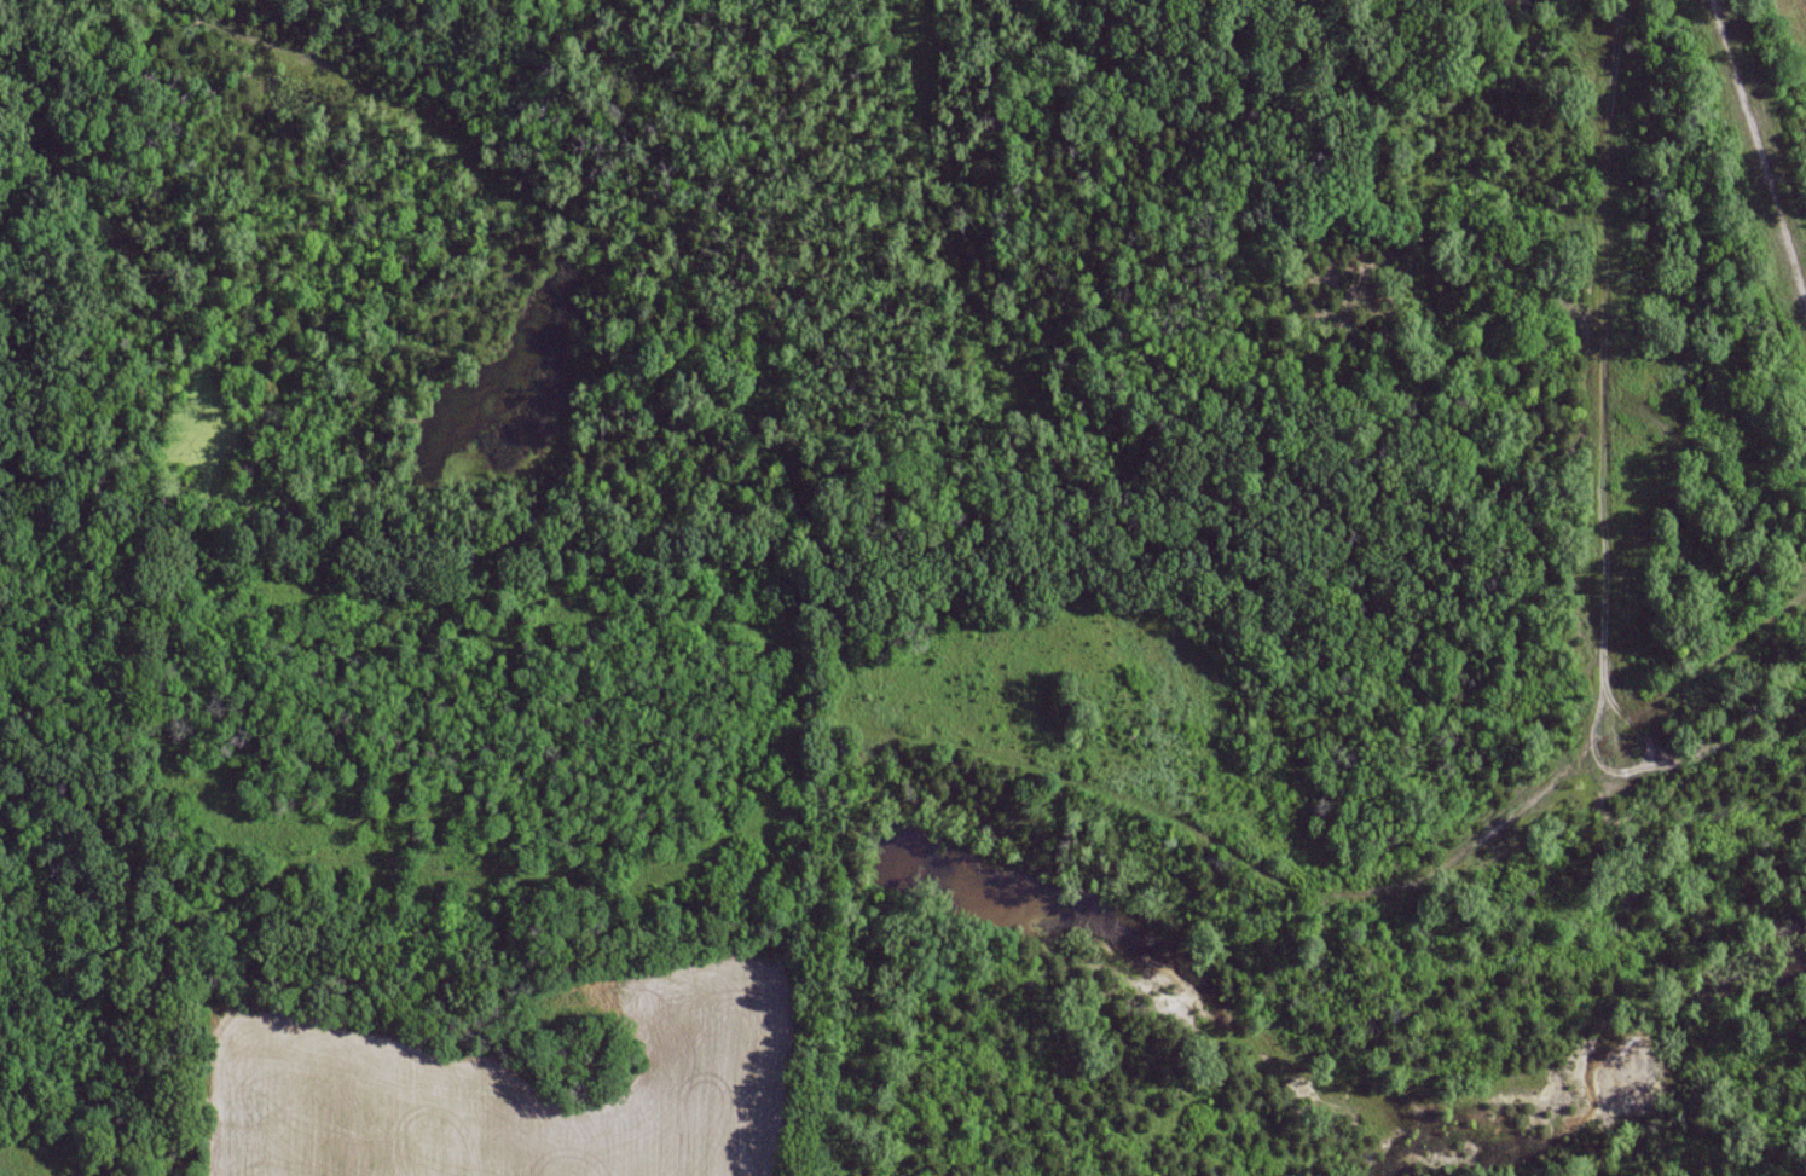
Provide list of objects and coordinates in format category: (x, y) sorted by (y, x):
road: (1764, 153)
road: (1596, 475)

